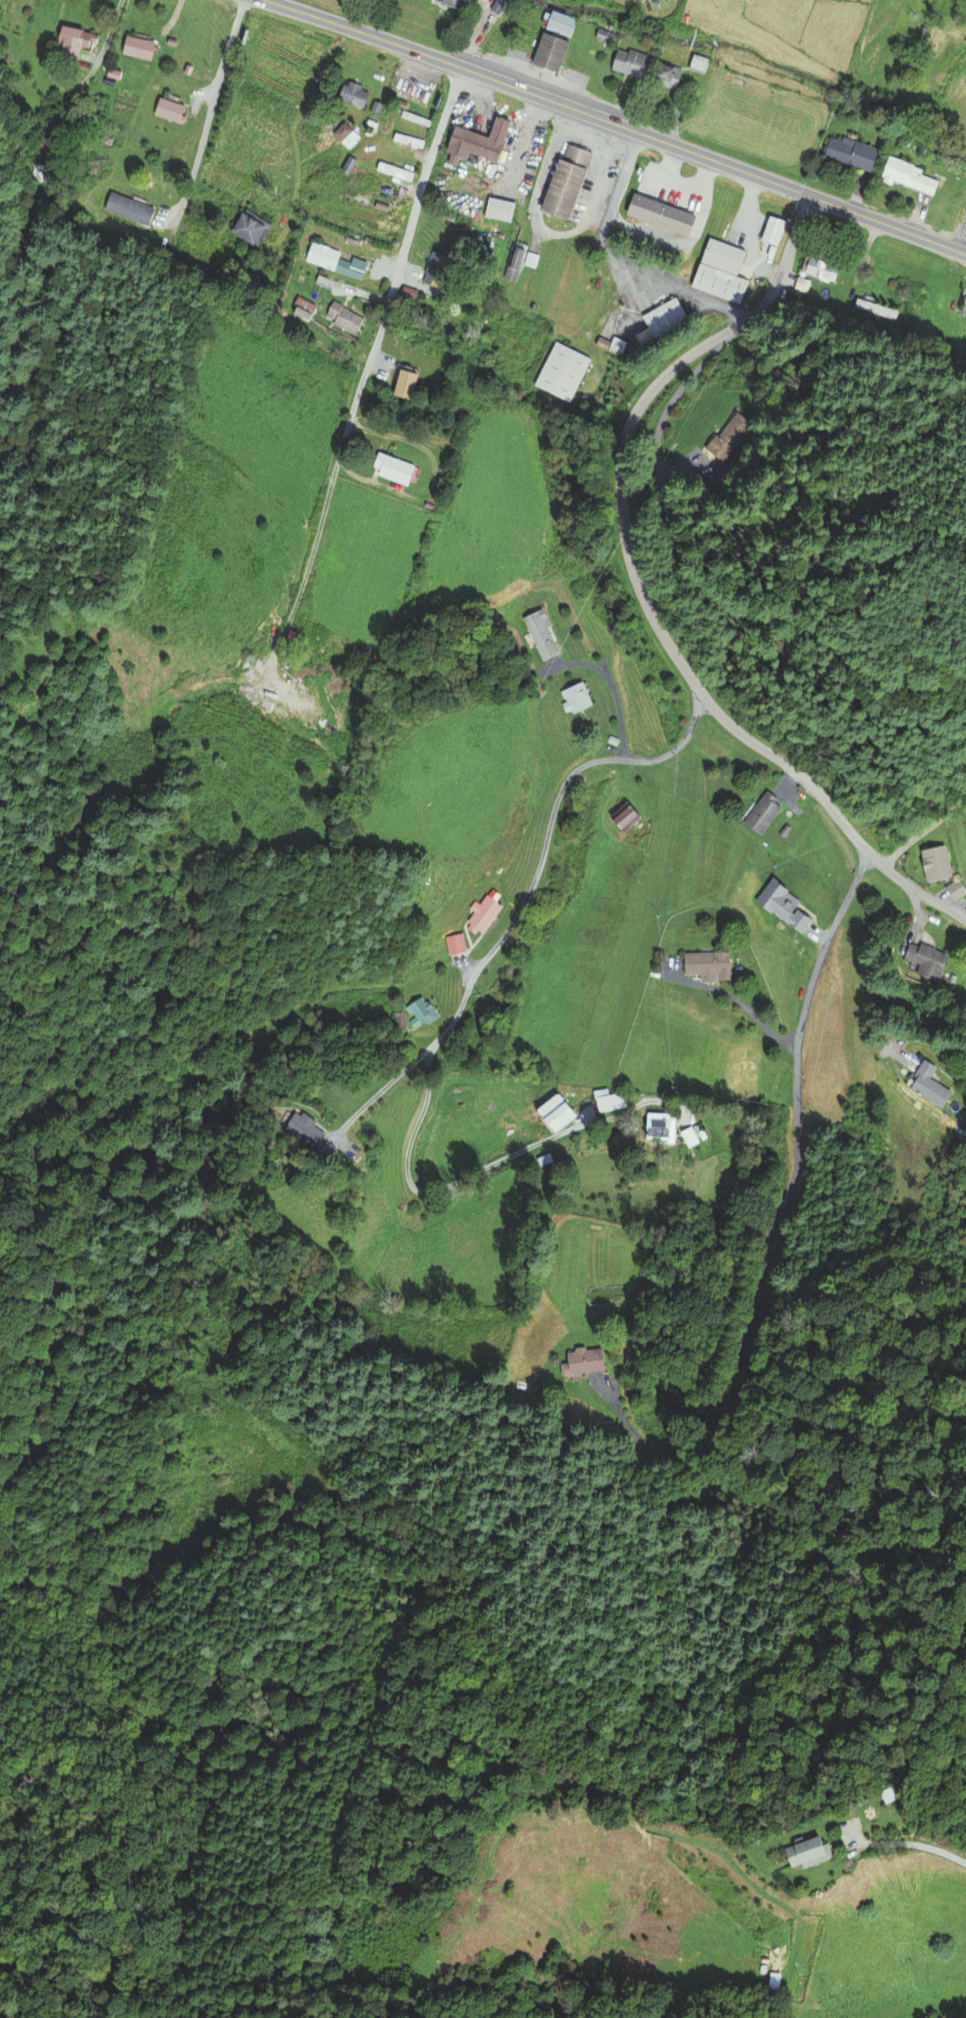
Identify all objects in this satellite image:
building: (748, 0)
building: (451, 2)
building: (498, 5)
building: (560, 23)
road: (474, 32)
building: (607, 35)
building: (72, 41)
building: (137, 47)
building: (551, 52)
building: (631, 62)
building: (698, 62)
building: (113, 73)
building: (667, 75)
building: (353, 94)
building: (399, 103)
building: (376, 106)
building: (168, 109)
road: (208, 111)
building: (415, 118)
road: (617, 124)
building: (343, 130)
building: (408, 139)
building: (478, 140)
building: (43, 150)
building: (851, 152)
building: (348, 164)
building: (395, 170)
building: (908, 175)
building: (567, 181)
building: (129, 208)
building: (500, 208)
building: (661, 213)
building: (248, 227)
building: (773, 229)
road: (550, 232)
building: (722, 255)
building: (333, 260)
road: (401, 260)
building: (514, 263)
building: (435, 267)
building: (820, 267)
building: (322, 280)
building: (720, 282)
building: (409, 291)
building: (876, 308)
building: (302, 310)
building: (344, 317)
building: (665, 317)
building: (562, 370)
building: (405, 383)
road: (663, 411)
building: (730, 436)
building: (394, 467)
building: (714, 478)
road: (310, 556)
road: (640, 589)
building: (540, 635)
road: (610, 682)
building: (574, 698)
building: (760, 814)
building: (626, 824)
road: (546, 840)
building: (933, 864)
building: (953, 890)
building: (477, 916)
building: (450, 945)
building: (923, 961)
building: (704, 964)
building: (417, 1013)
road: (741, 1018)
building: (249, 1061)
building: (923, 1086)
road: (380, 1090)
building: (609, 1102)
building: (554, 1114)
building: (658, 1126)
building: (302, 1133)
building: (687, 1138)
road: (796, 1141)
road: (480, 1171)
building: (584, 1361)
road: (645, 1445)
road: (919, 1845)
building: (800, 1854)

